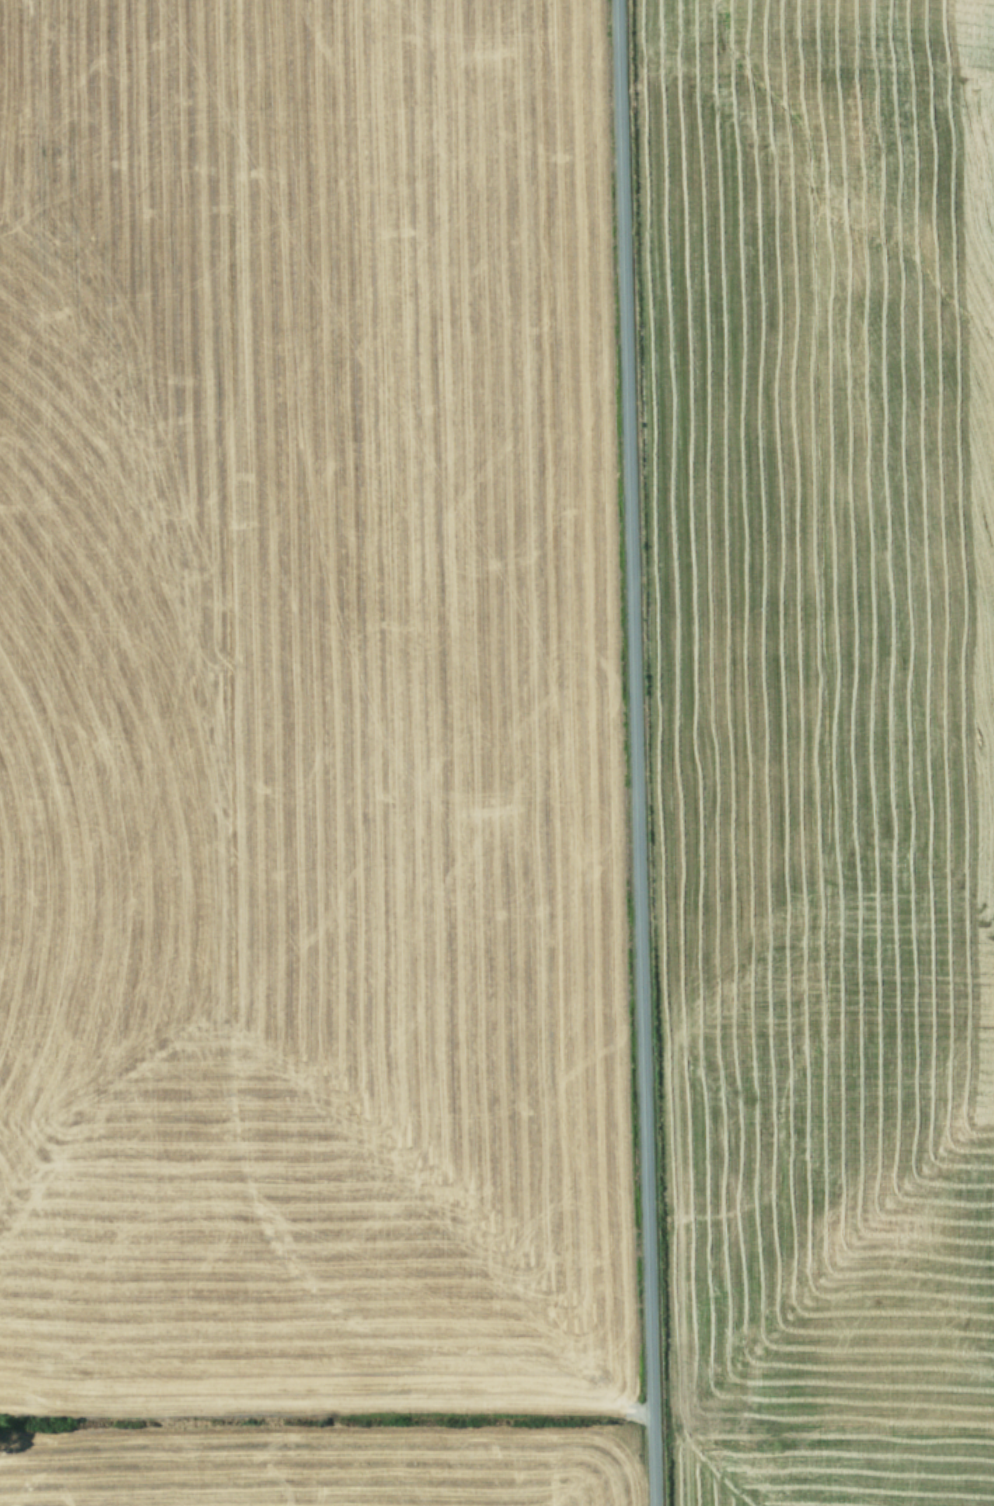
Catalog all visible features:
crop: (497, 753)
road: (637, 753)

